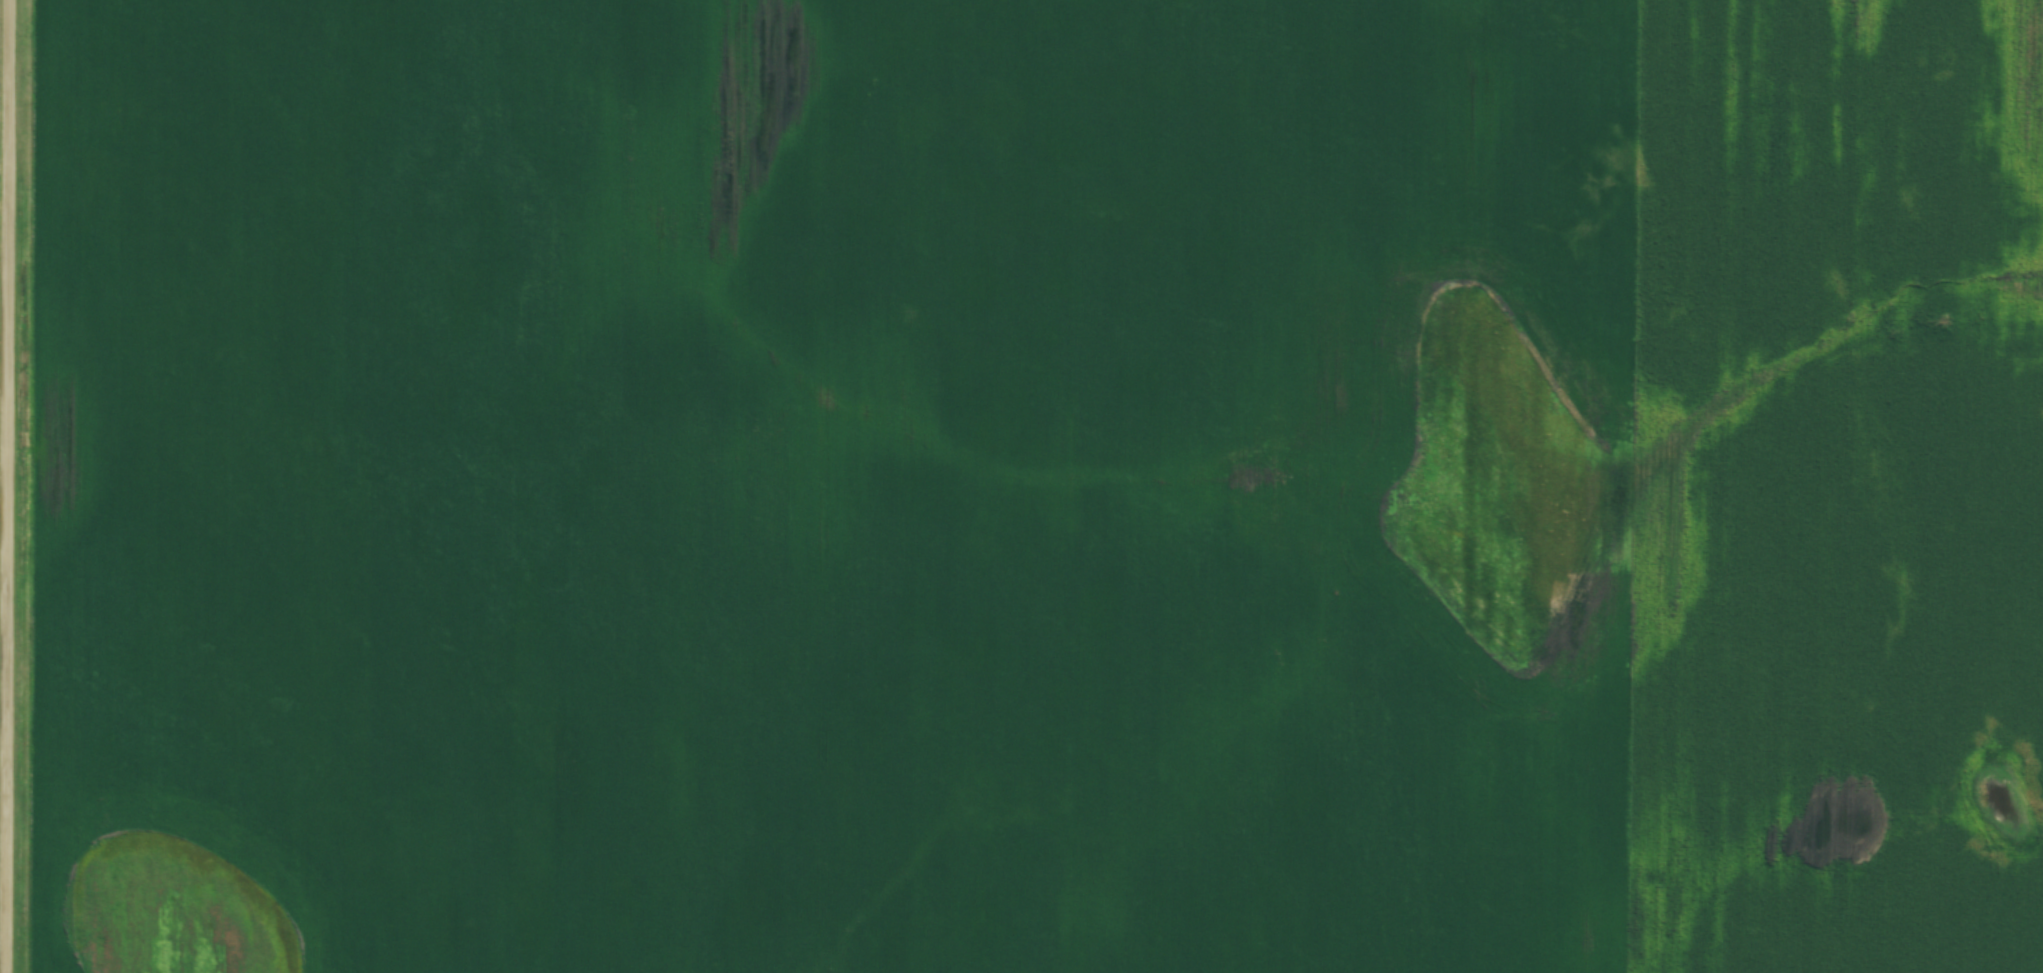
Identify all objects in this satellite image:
road: (8, 486)

